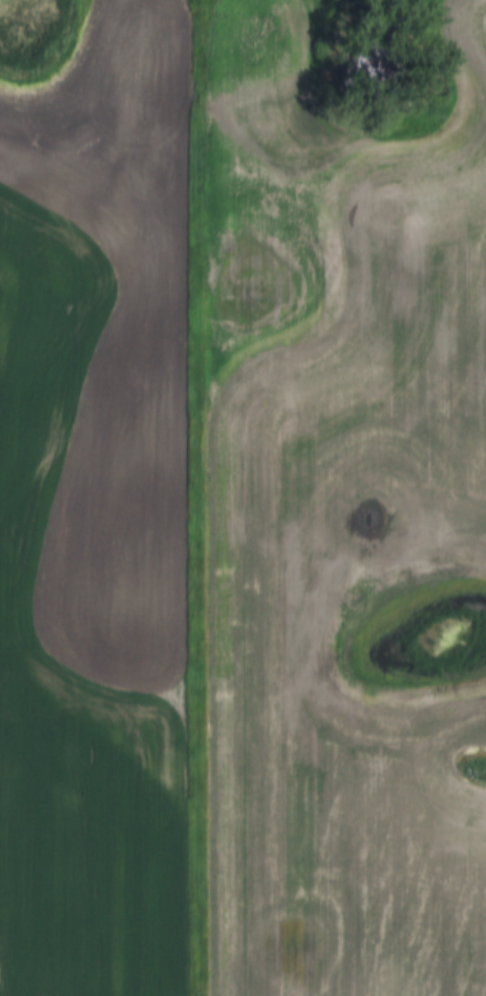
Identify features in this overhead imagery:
road: (60, 64)

